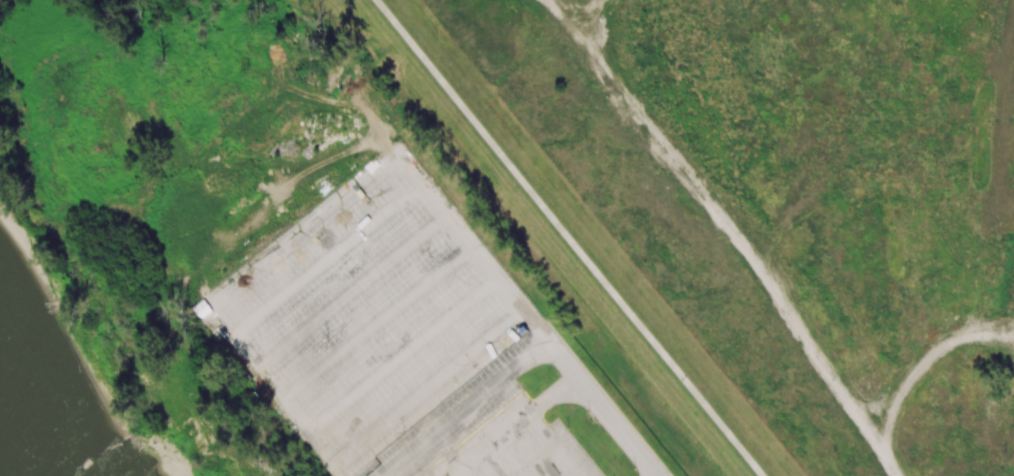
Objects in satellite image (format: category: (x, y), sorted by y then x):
road: (566, 20)
road: (595, 20)
road: (298, 230)
road: (568, 237)
road: (732, 237)
road: (325, 265)
road: (351, 297)
road: (527, 315)
parking lot: (364, 322)
road: (376, 328)
road: (401, 360)
road: (923, 361)
road: (264, 389)
road: (426, 391)
road: (467, 410)
road: (516, 426)
road: (554, 445)
parking lot: (518, 448)
road: (509, 459)
road: (883, 460)
road: (464, 473)

